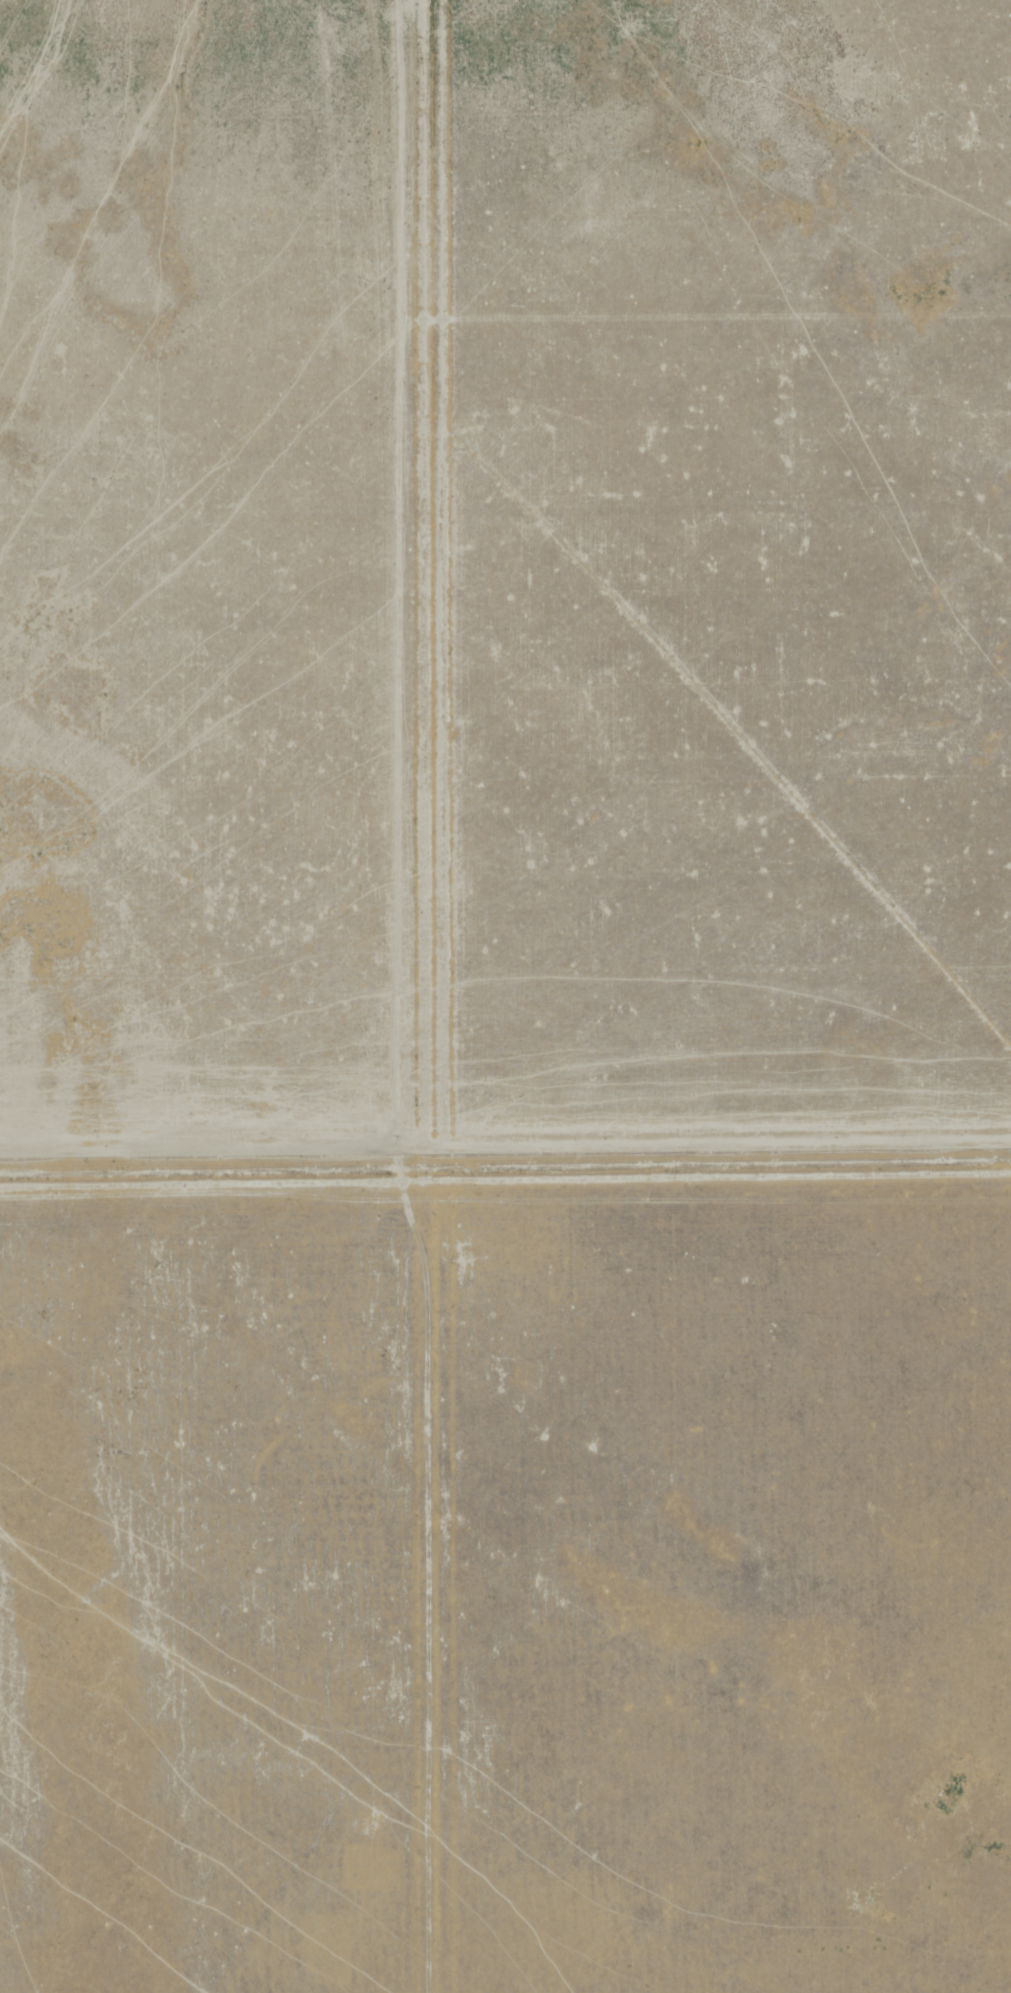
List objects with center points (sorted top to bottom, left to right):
crop: (505, 1577)

